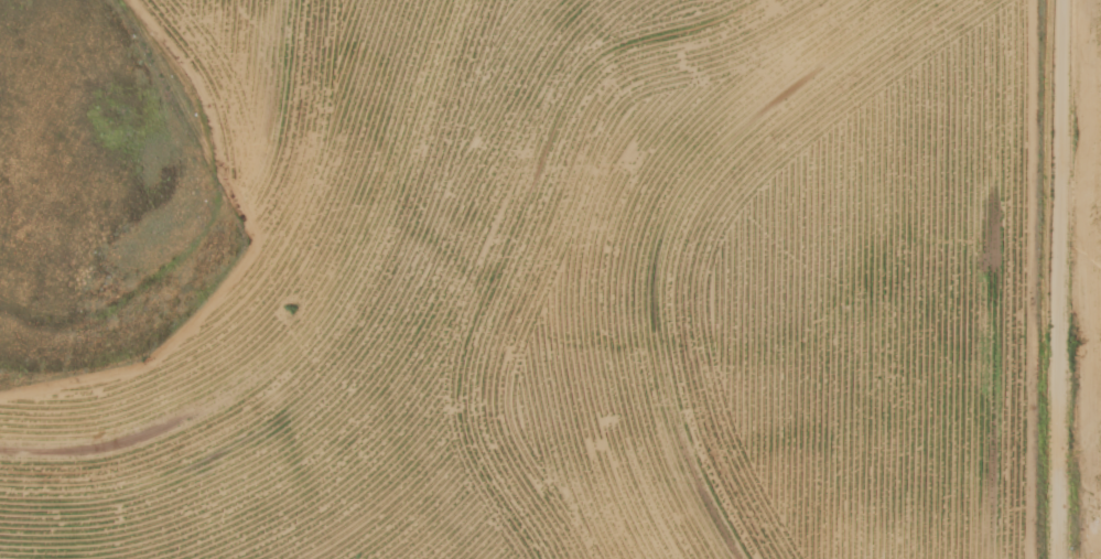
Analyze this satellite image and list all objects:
road: (1059, 279)

